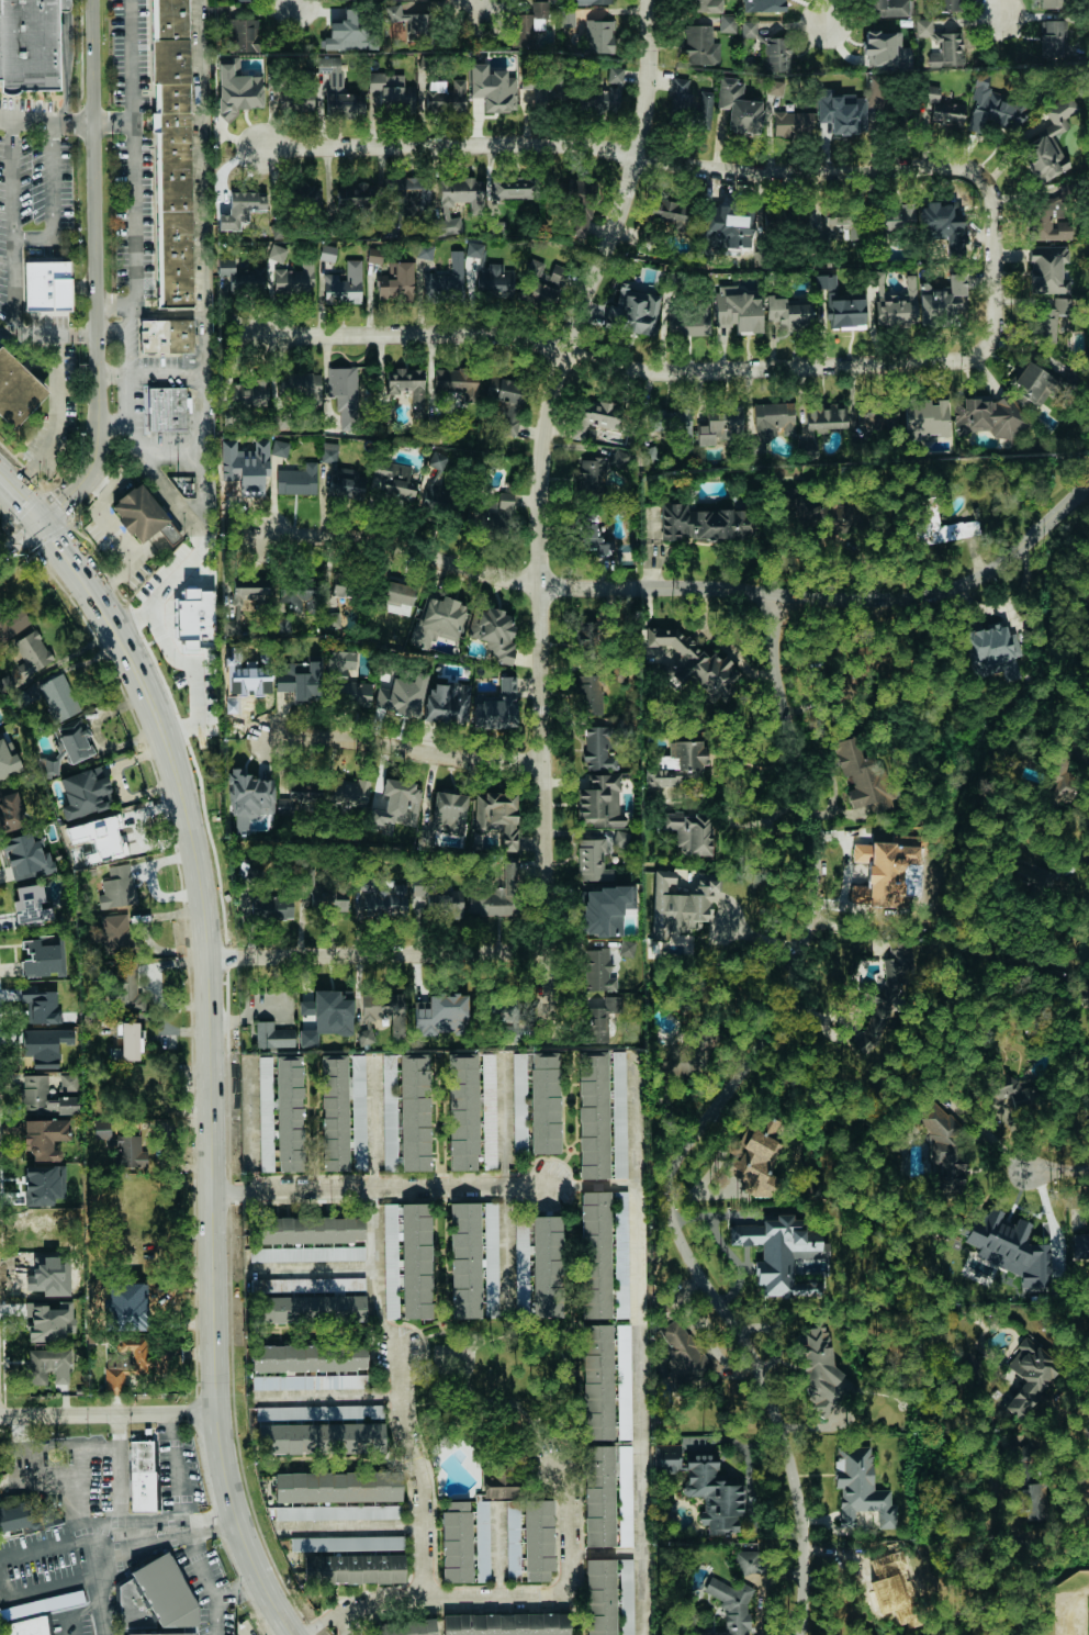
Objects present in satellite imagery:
building: (244, 0)
road: (296, 1)
building: (590, 1)
building: (1051, 3)
building: (938, 4)
building: (705, 5)
building: (768, 8)
building: (891, 8)
road: (1003, 9)
road: (828, 13)
building: (566, 18)
building: (407, 20)
building: (528, 22)
building: (727, 23)
building: (748, 29)
building: (351, 32)
building: (240, 36)
building: (598, 36)
building: (1053, 37)
building: (940, 43)
building: (0, 45)
building: (32, 45)
building: (699, 45)
building: (884, 49)
building: (776, 54)
building: (325, 82)
building: (774, 87)
building: (493, 88)
building: (605, 88)
building: (237, 91)
building: (392, 91)
building: (877, 91)
building: (446, 97)
building: (680, 97)
building: (295, 98)
building: (738, 107)
building: (991, 107)
building: (940, 108)
building: (841, 111)
building: (1059, 114)
road: (47, 120)
road: (114, 121)
building: (792, 123)
building: (172, 153)
building: (1042, 158)
road: (666, 160)
road: (134, 168)
road: (199, 183)
building: (576, 186)
building: (514, 187)
building: (463, 192)
building: (413, 194)
road: (50, 195)
building: (357, 195)
building: (240, 208)
building: (941, 211)
road: (98, 213)
building: (1052, 214)
building: (726, 217)
building: (579, 220)
building: (835, 221)
building: (886, 221)
building: (448, 226)
building: (497, 227)
road: (9, 228)
building: (474, 249)
building: (425, 251)
building: (277, 253)
building: (327, 253)
building: (1047, 269)
building: (242, 275)
building: (45, 276)
building: (296, 280)
building: (495, 280)
building: (396, 282)
building: (446, 282)
building: (544, 284)
building: (345, 285)
road: (591, 291)
building: (944, 300)
building: (894, 302)
building: (737, 310)
building: (637, 311)
building: (845, 312)
building: (788, 313)
building: (687, 318)
building: (1049, 318)
building: (167, 336)
road: (49, 337)
road: (670, 370)
building: (454, 384)
building: (302, 385)
building: (1032, 385)
building: (407, 387)
building: (504, 389)
building: (18, 391)
building: (250, 392)
building: (345, 395)
road: (201, 404)
building: (167, 408)
building: (593, 415)
road: (54, 416)
building: (824, 416)
building: (986, 416)
building: (925, 418)
road: (115, 419)
building: (873, 419)
road: (130, 422)
building: (770, 422)
building: (720, 424)
building: (673, 426)
building: (281, 448)
road: (167, 451)
building: (328, 452)
building: (619, 458)
road: (83, 477)
building: (248, 478)
building: (297, 480)
building: (392, 481)
building: (346, 484)
road: (22, 490)
building: (495, 512)
traffic signals: (46, 514)
building: (139, 514)
road: (104, 515)
building: (703, 523)
building: (940, 526)
building: (596, 531)
road: (23, 533)
road: (407, 549)
road: (149, 551)
road: (75, 557)
road: (184, 569)
building: (340, 590)
building: (249, 592)
building: (397, 597)
road: (834, 602)
building: (307, 604)
building: (194, 618)
building: (12, 623)
building: (494, 634)
building: (586, 639)
building: (989, 649)
building: (31, 652)
building: (689, 662)
road: (188, 663)
building: (346, 676)
building: (300, 680)
building: (847, 685)
building: (592, 693)
building: (58, 696)
building: (402, 696)
building: (22, 699)
building: (447, 703)
building: (495, 706)
building: (76, 740)
building: (600, 746)
road: (407, 754)
building: (5, 758)
building: (681, 763)
building: (49, 766)
building: (862, 775)
building: (85, 792)
building: (350, 792)
building: (300, 797)
building: (248, 798)
building: (599, 800)
building: (397, 805)
building: (10, 808)
building: (449, 811)
road: (544, 815)
building: (497, 817)
building: (689, 831)
building: (98, 838)
building: (620, 839)
building: (25, 855)
building: (592, 860)
building: (886, 873)
building: (116, 885)
building: (497, 895)
building: (328, 897)
building: (438, 899)
building: (385, 902)
building: (31, 904)
building: (678, 904)
building: (271, 906)
building: (603, 909)
building: (114, 933)
road: (760, 934)
building: (626, 948)
road: (379, 953)
building: (40, 959)
building: (597, 970)
building: (126, 986)
building: (888, 992)
building: (38, 1007)
building: (385, 1010)
building: (441, 1014)
building: (326, 1016)
building: (602, 1017)
building: (273, 1035)
building: (126, 1040)
building: (44, 1045)
building: (1011, 1097)
building: (44, 1099)
building: (519, 1101)
building: (546, 1102)
building: (489, 1110)
building: (462, 1111)
building: (335, 1112)
building: (359, 1112)
building: (406, 1112)
building: (266, 1113)
building: (290, 1113)
building: (593, 1115)
building: (619, 1115)
road: (211, 1117)
road: (373, 1122)
road: (504, 1122)
road: (708, 1124)
road: (637, 1126)
building: (43, 1138)
building: (944, 1140)
building: (122, 1144)
building: (756, 1164)
road: (1058, 1168)
building: (41, 1185)
road: (381, 1186)
building: (311, 1230)
building: (1080, 1245)
building: (1006, 1246)
road: (507, 1248)
building: (779, 1252)
building: (595, 1253)
building: (620, 1253)
building: (307, 1254)
building: (464, 1259)
building: (491, 1259)
building: (407, 1261)
building: (548, 1266)
road: (315, 1268)
building: (521, 1268)
road: (373, 1270)
building: (138, 1291)
building: (311, 1299)
building: (133, 1320)
building: (48, 1321)
building: (682, 1353)
building: (310, 1357)
road: (637, 1360)
building: (138, 1363)
building: (47, 1366)
building: (1029, 1373)
building: (822, 1377)
building: (308, 1381)
building: (622, 1381)
building: (597, 1382)
road: (109, 1410)
building: (319, 1412)
building: (322, 1438)
road: (341, 1463)
road: (177, 1466)
road: (117, 1470)
road: (414, 1470)
building: (141, 1476)
building: (501, 1483)
building: (338, 1487)
building: (705, 1487)
building: (860, 1487)
building: (598, 1496)
building: (625, 1496)
building: (1030, 1500)
building: (338, 1512)
building: (14, 1519)
road: (353, 1527)
road: (122, 1530)
road: (480, 1536)
building: (482, 1541)
building: (530, 1541)
building: (457, 1542)
building: (351, 1559)
building: (748, 1560)
road: (7, 1575)
road: (214, 1577)
road: (569, 1590)
building: (599, 1597)
building: (625, 1597)
building: (157, 1601)
building: (729, 1605)
road: (363, 1606)
road: (77, 1612)
building: (475, 1625)

